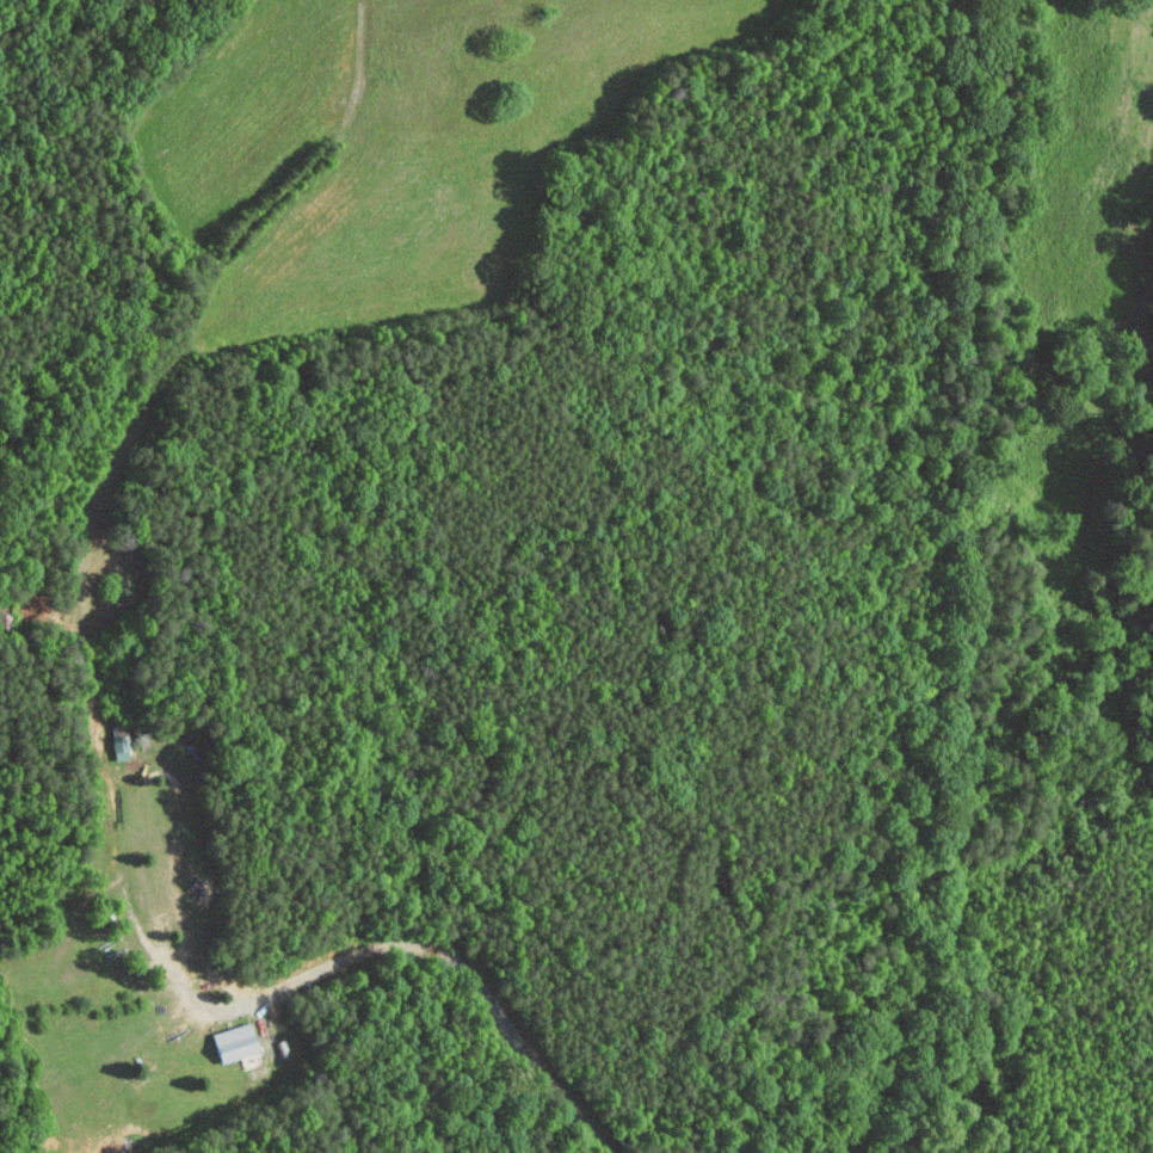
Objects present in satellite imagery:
road: (463, 963)
building: (230, 1042)

